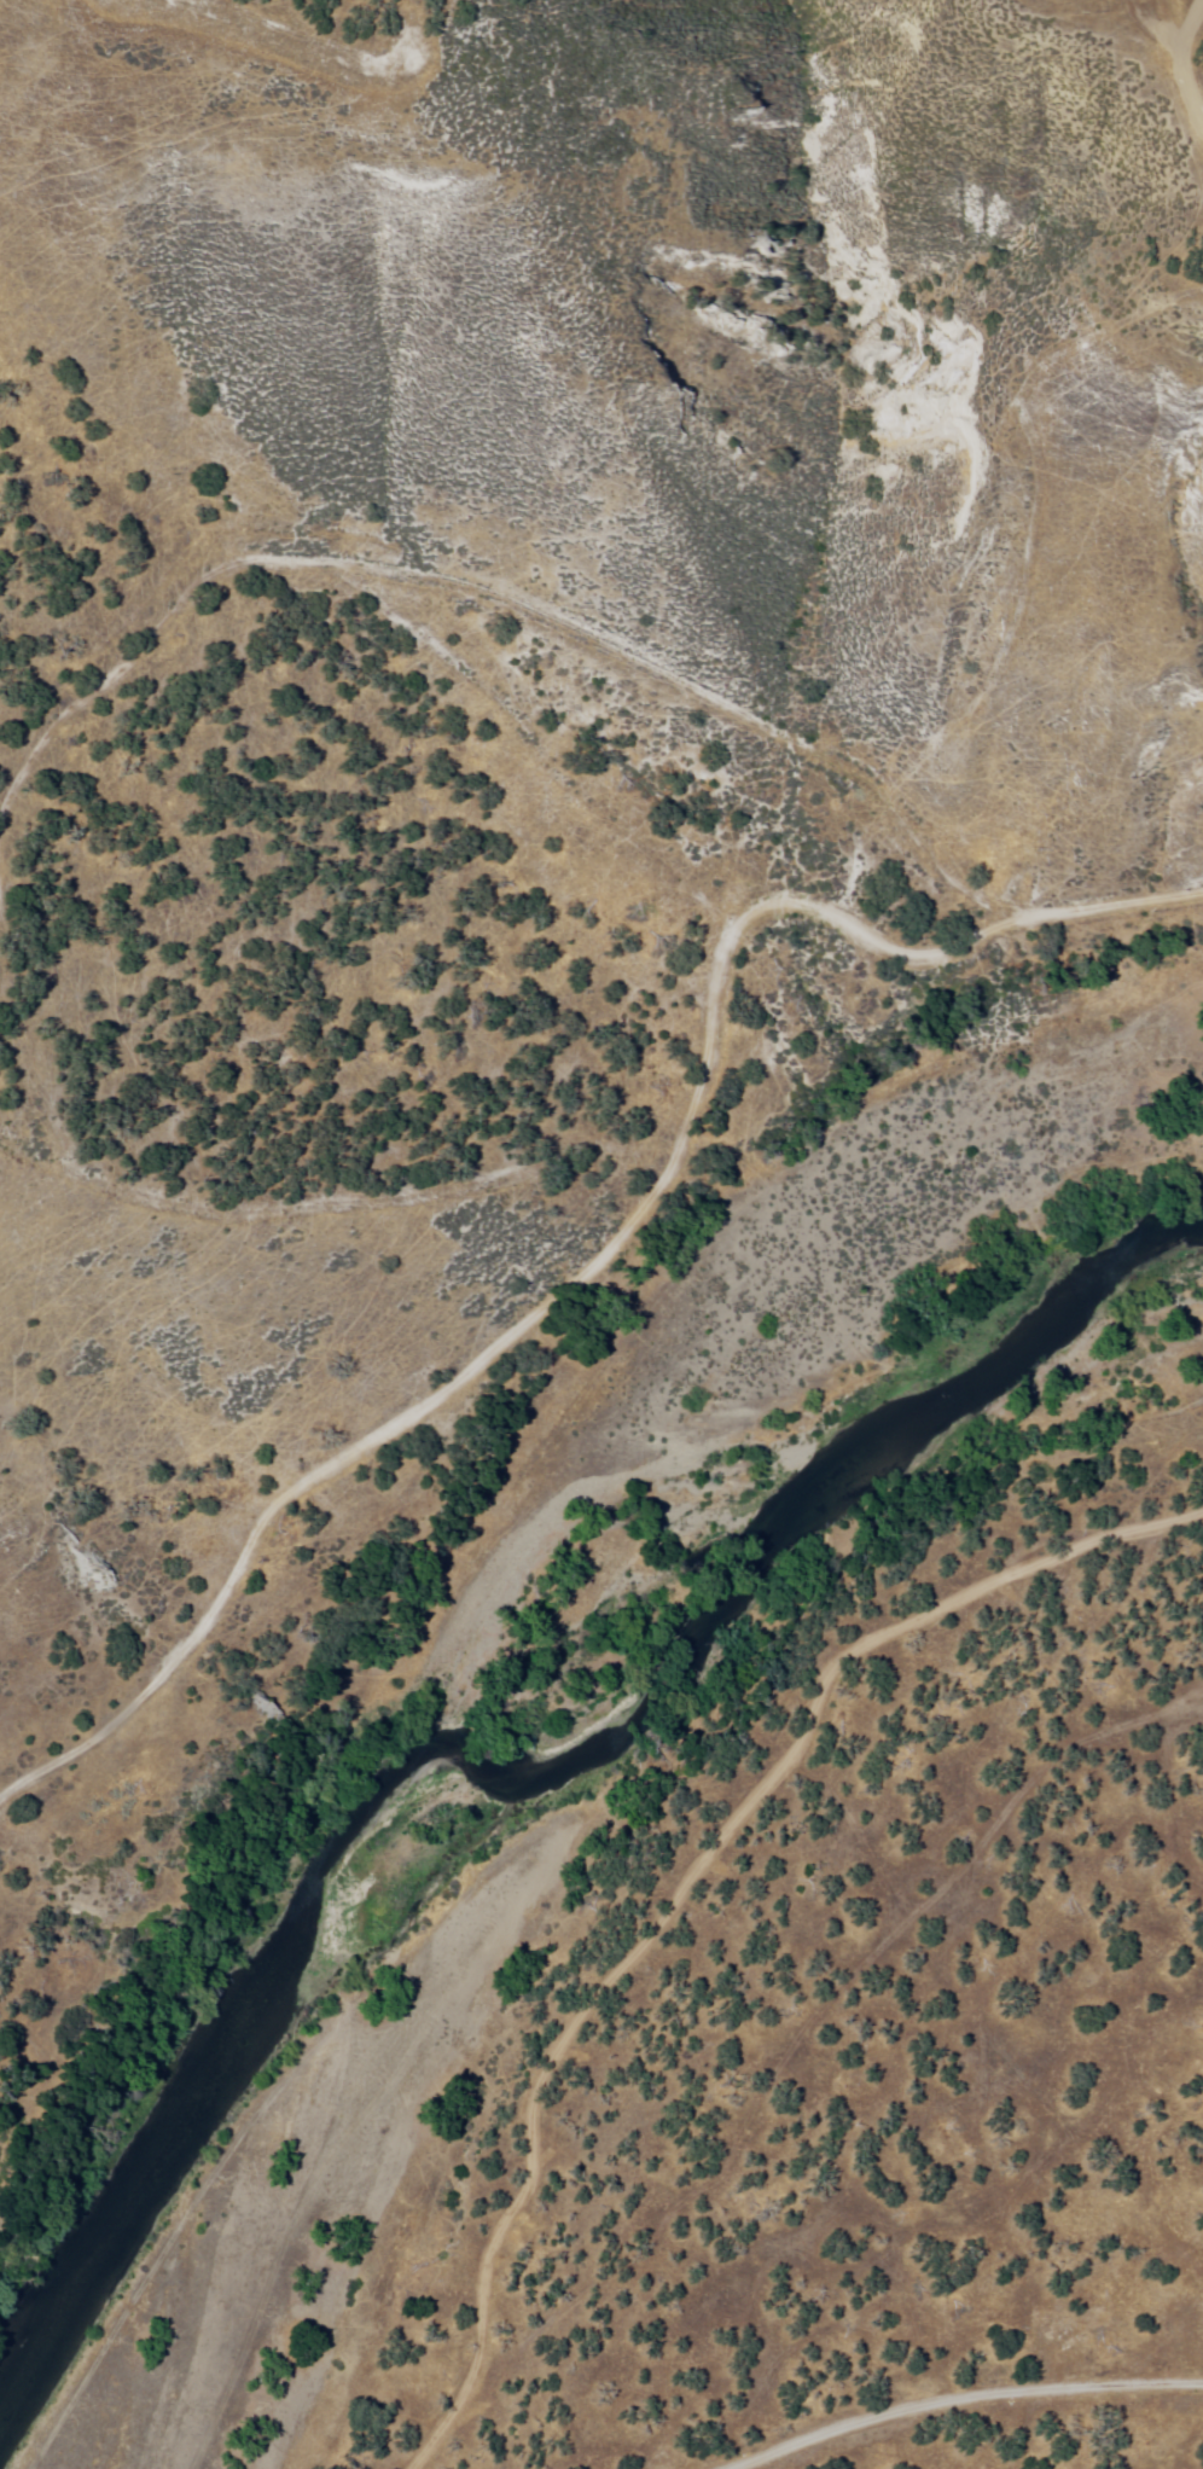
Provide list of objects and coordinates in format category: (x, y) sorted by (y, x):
road: (1174, 16)
road: (1157, 33)
road: (1184, 58)
road: (1039, 509)
road: (487, 585)
road: (618, 1239)
river: (568, 1760)
road: (685, 1887)
river: (22, 2361)
road: (954, 2400)

